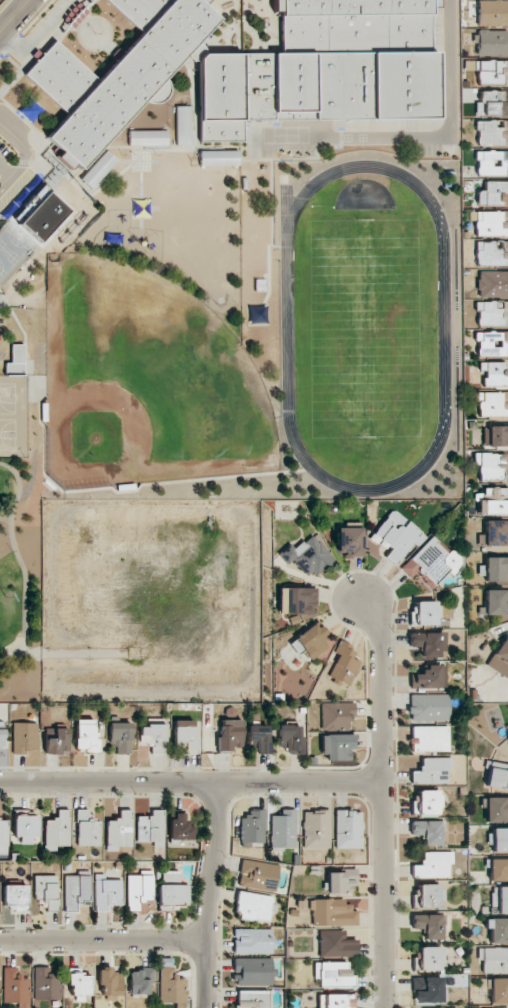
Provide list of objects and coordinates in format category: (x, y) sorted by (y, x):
building: (492, 12)
road: (14, 16)
road: (35, 36)
building: (492, 42)
building: (250, 66)
building: (492, 72)
building: (491, 104)
building: (183, 125)
building: (492, 133)
road: (419, 135)
building: (147, 138)
road: (26, 155)
building: (218, 158)
building: (492, 163)
building: (98, 169)
road: (5, 171)
building: (492, 193)
park: (33, 221)
building: (491, 223)
building: (492, 253)
building: (493, 284)
building: (492, 314)
track: (287, 328)
building: (492, 344)
building: (16, 361)
building: (494, 373)
park: (144, 382)
building: (492, 404)
park: (13, 417)
building: (495, 435)
building: (492, 466)
park: (19, 484)
building: (493, 501)
building: (494, 533)
building: (395, 535)
building: (349, 541)
building: (306, 556)
road: (20, 562)
building: (432, 562)
building: (496, 569)
building: (296, 601)
building: (496, 602)
building: (422, 613)
building: (311, 641)
building: (427, 643)
building: (500, 658)
building: (344, 663)
building: (429, 677)
building: (429, 707)
building: (336, 715)
building: (184, 733)
building: (229, 735)
building: (2, 736)
building: (85, 736)
building: (120, 736)
building: (507, 736)
building: (24, 737)
building: (152, 737)
building: (291, 738)
building: (429, 738)
building: (258, 739)
building: (57, 742)
building: (337, 746)
building: (432, 770)
building: (497, 775)
road: (189, 784)
road: (379, 797)
building: (426, 802)
building: (496, 809)
building: (25, 825)
building: (252, 826)
building: (151, 828)
building: (58, 829)
building: (87, 829)
building: (180, 829)
building: (316, 829)
building: (348, 829)
building: (283, 830)
building: (119, 831)
building: (427, 831)
building: (3, 836)
building: (499, 839)
building: (433, 864)
building: (498, 869)
building: (258, 875)
building: (341, 881)
building: (140, 889)
building: (47, 890)
building: (76, 890)
building: (107, 892)
building: (173, 892)
road: (209, 896)
building: (427, 896)
building: (15, 897)
building: (500, 898)
building: (254, 906)
building: (332, 913)
building: (428, 925)
building: (497, 929)
road: (102, 940)
building: (253, 941)
building: (336, 944)
building: (429, 958)
building: (493, 959)
building: (252, 971)
building: (333, 974)
building: (140, 981)
building: (110, 982)
building: (78, 983)
building: (46, 984)
building: (171, 987)
building: (15, 988)
building: (428, 990)
building: (499, 990)
building: (251, 999)
building: (335, 1001)
building: (486, 1007)

